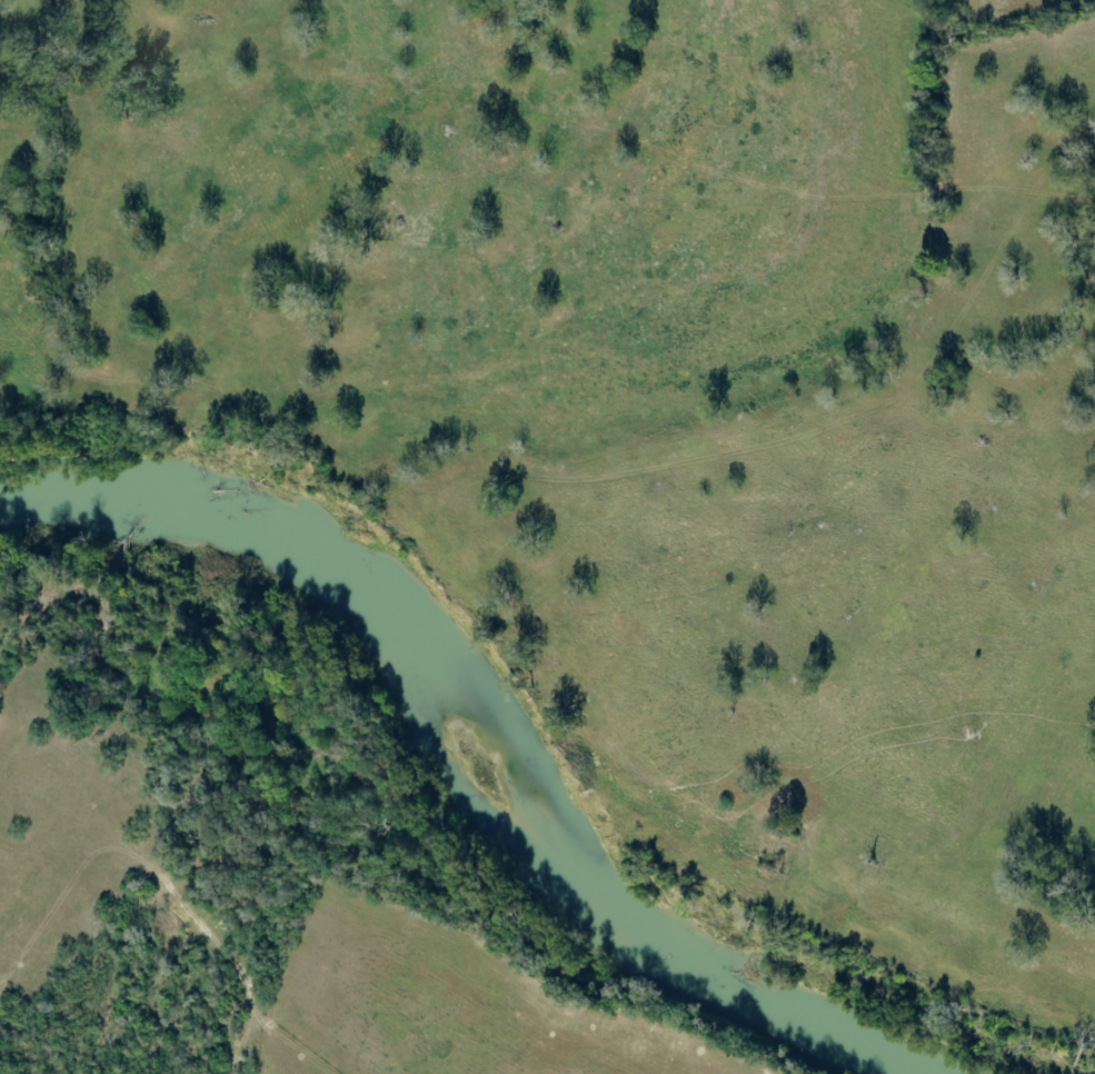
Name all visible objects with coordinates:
river: (474, 765)

